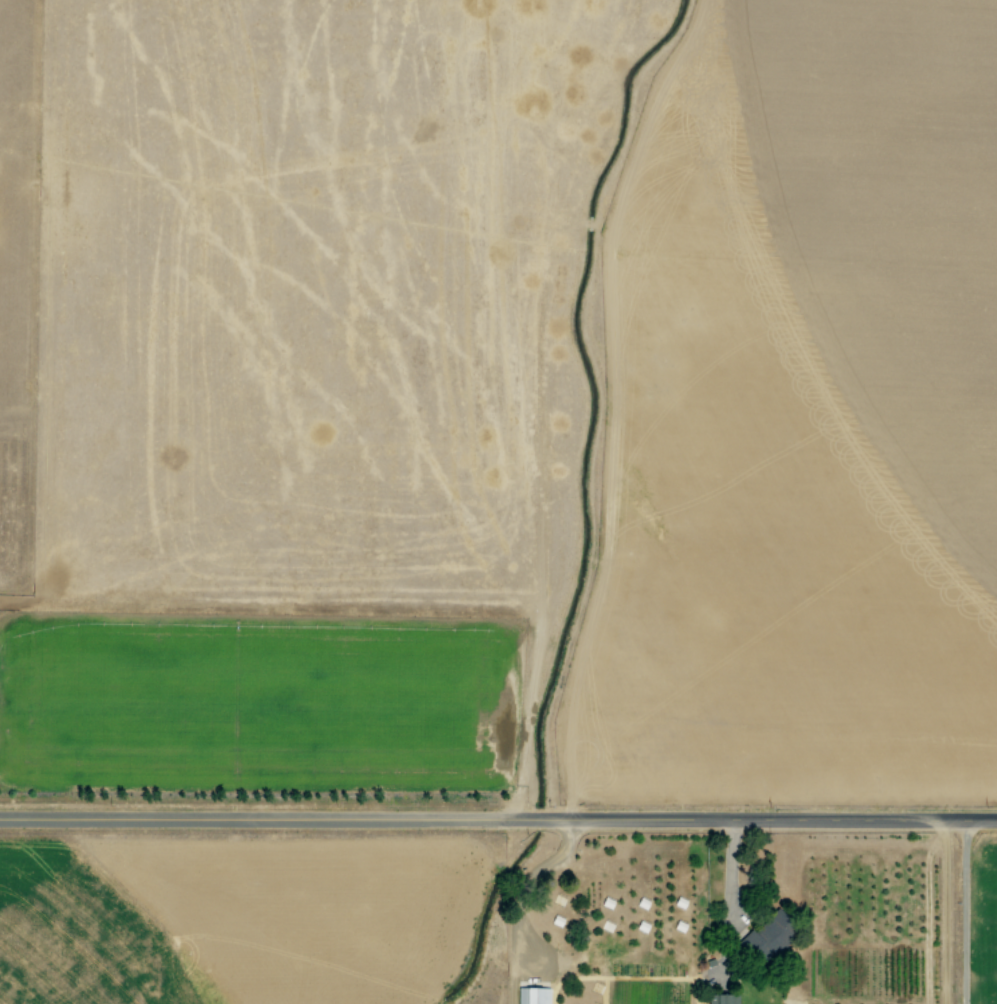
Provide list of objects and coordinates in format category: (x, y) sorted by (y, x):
road: (498, 822)
road: (961, 914)
building: (766, 937)
building: (532, 995)
building: (721, 999)

